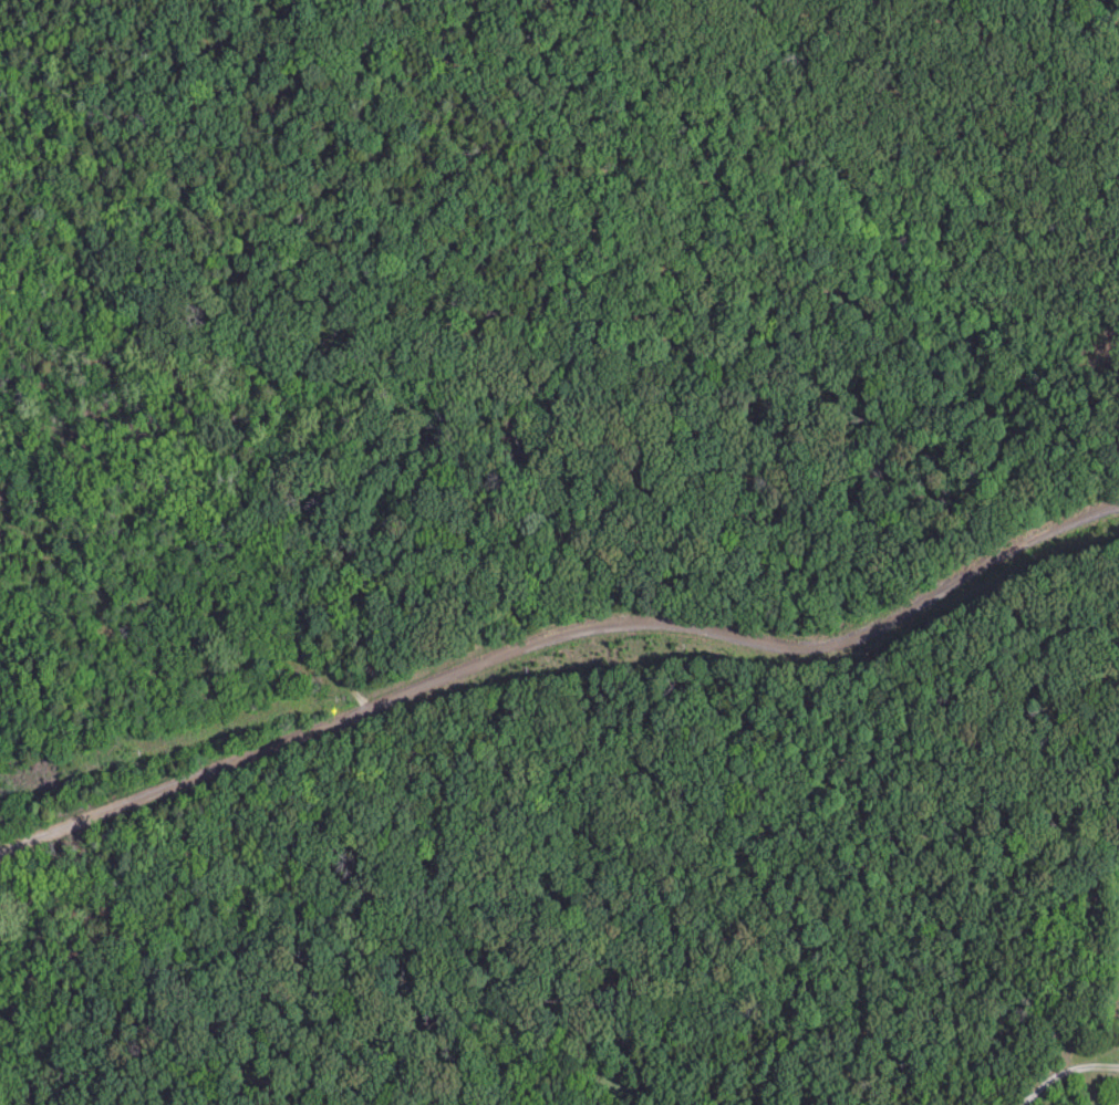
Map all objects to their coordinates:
road: (580, 627)
road: (23, 838)
road: (1067, 1075)

